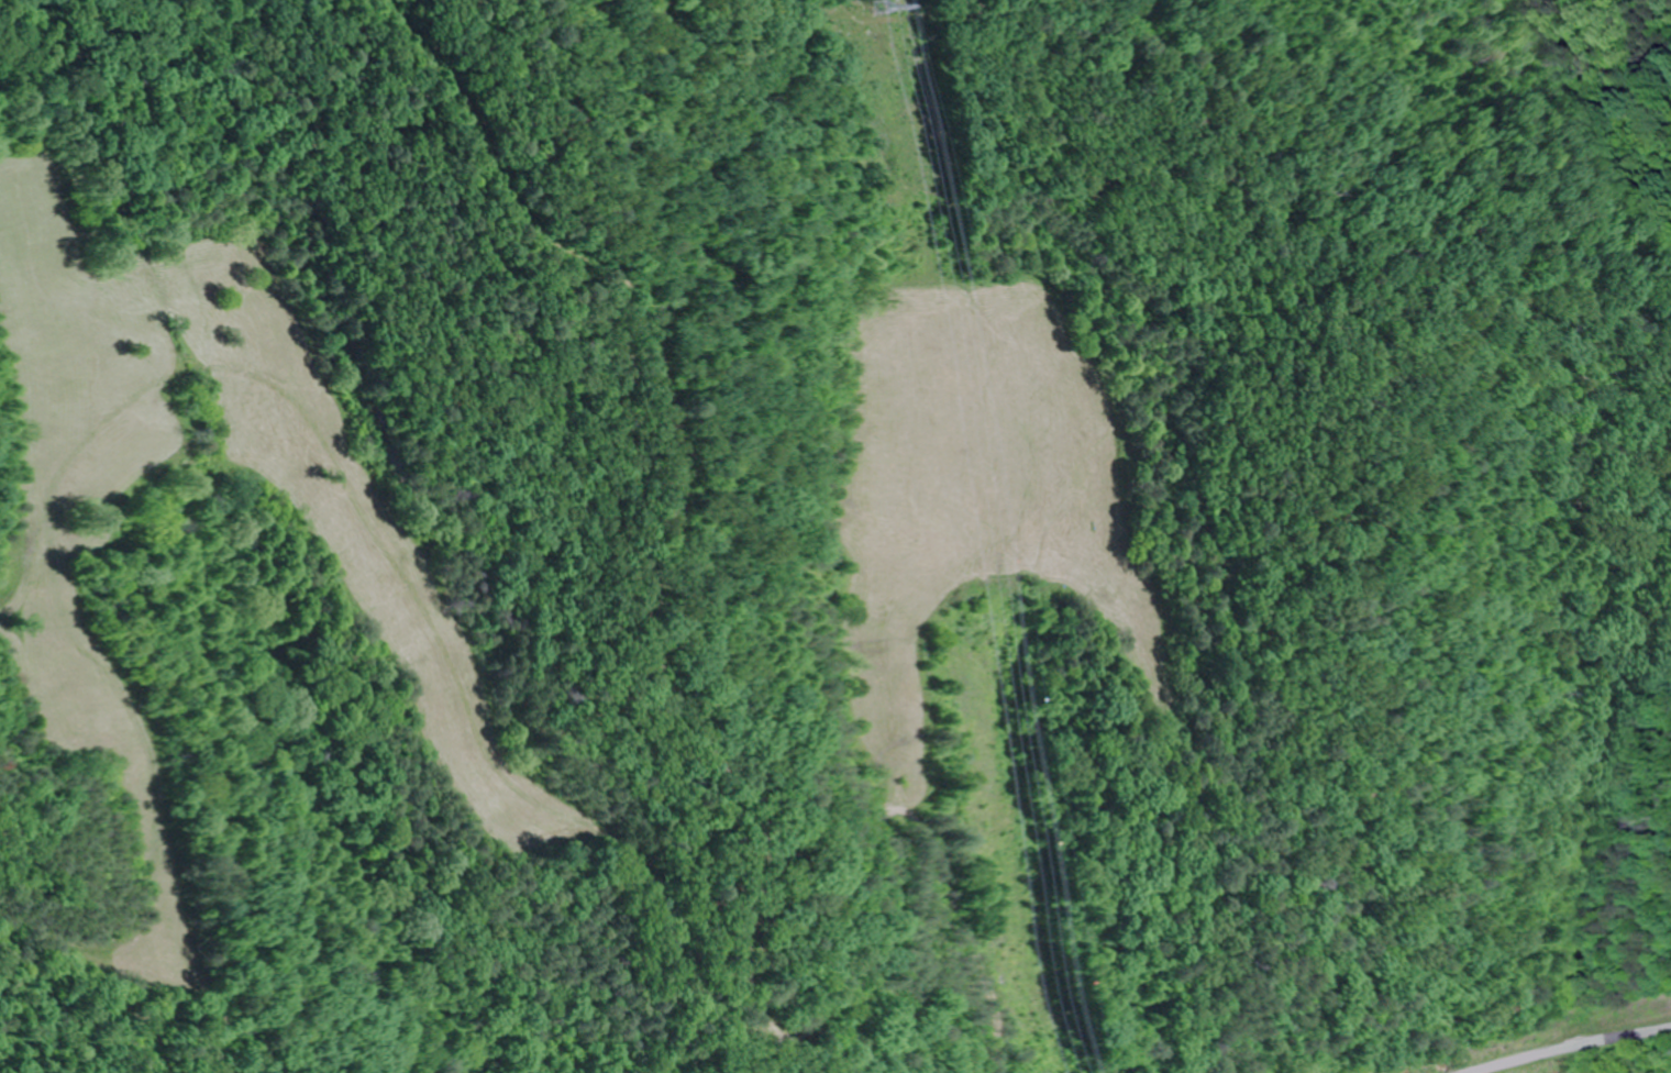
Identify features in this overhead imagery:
road: (1570, 1044)

